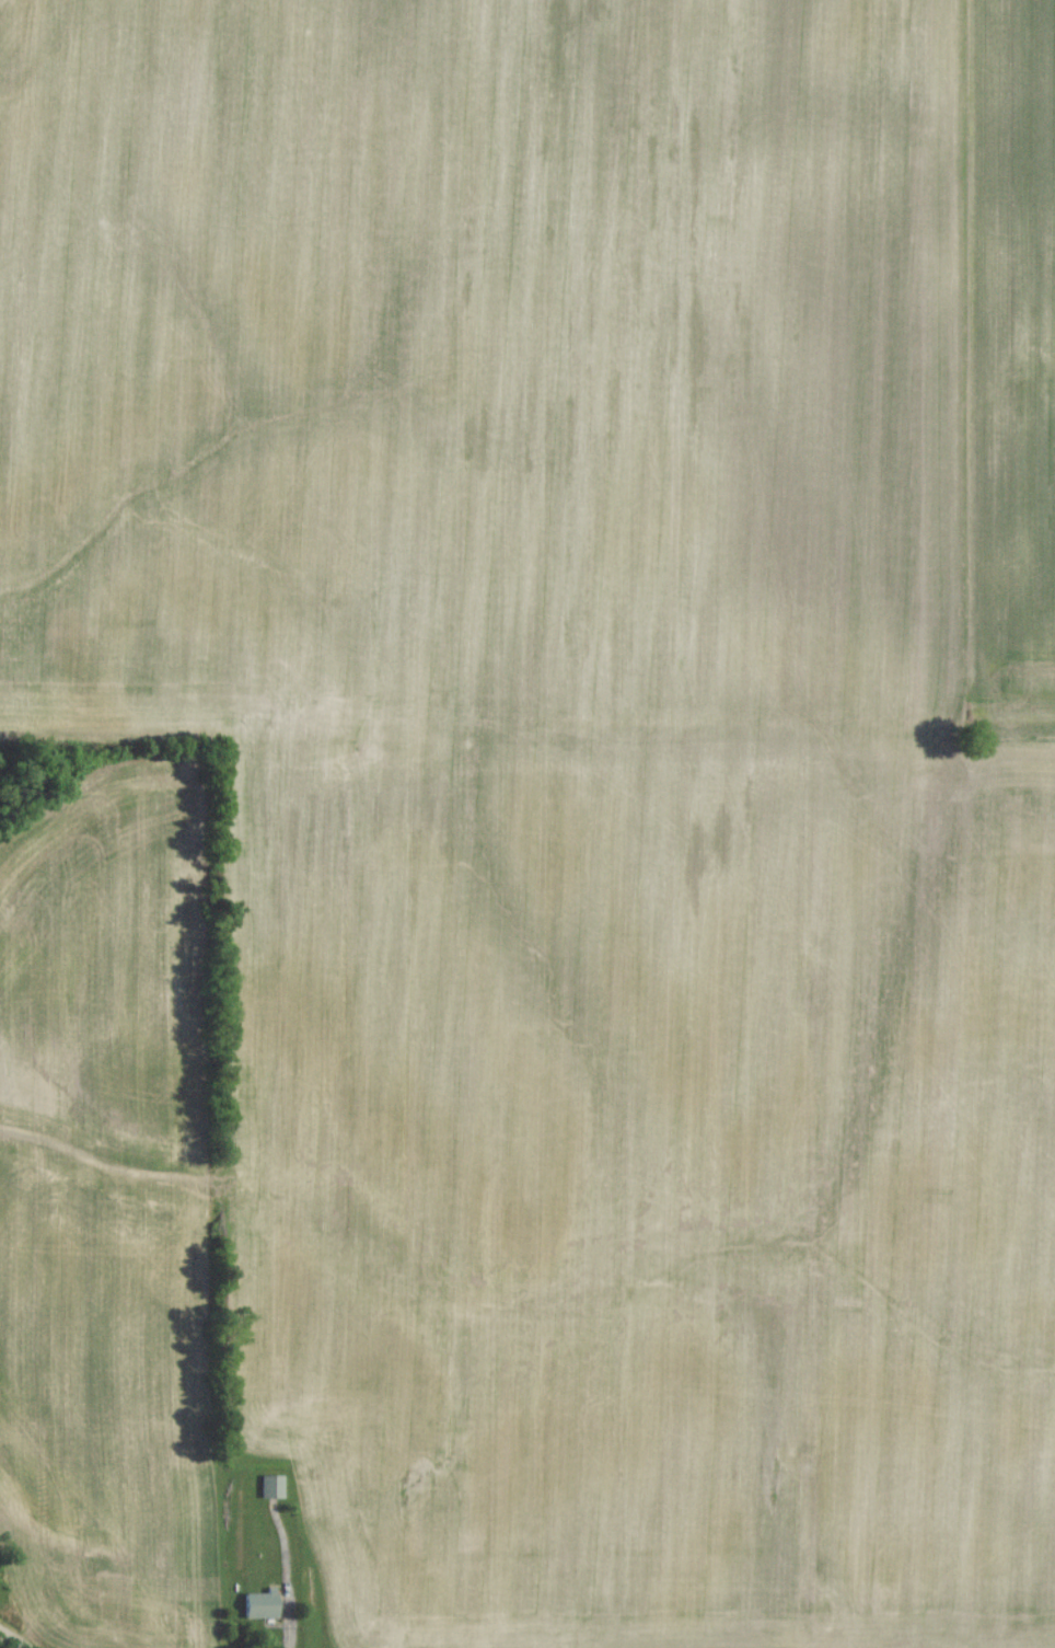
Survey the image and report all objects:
building: (270, 1493)
building: (260, 1611)
road: (9, 1641)

